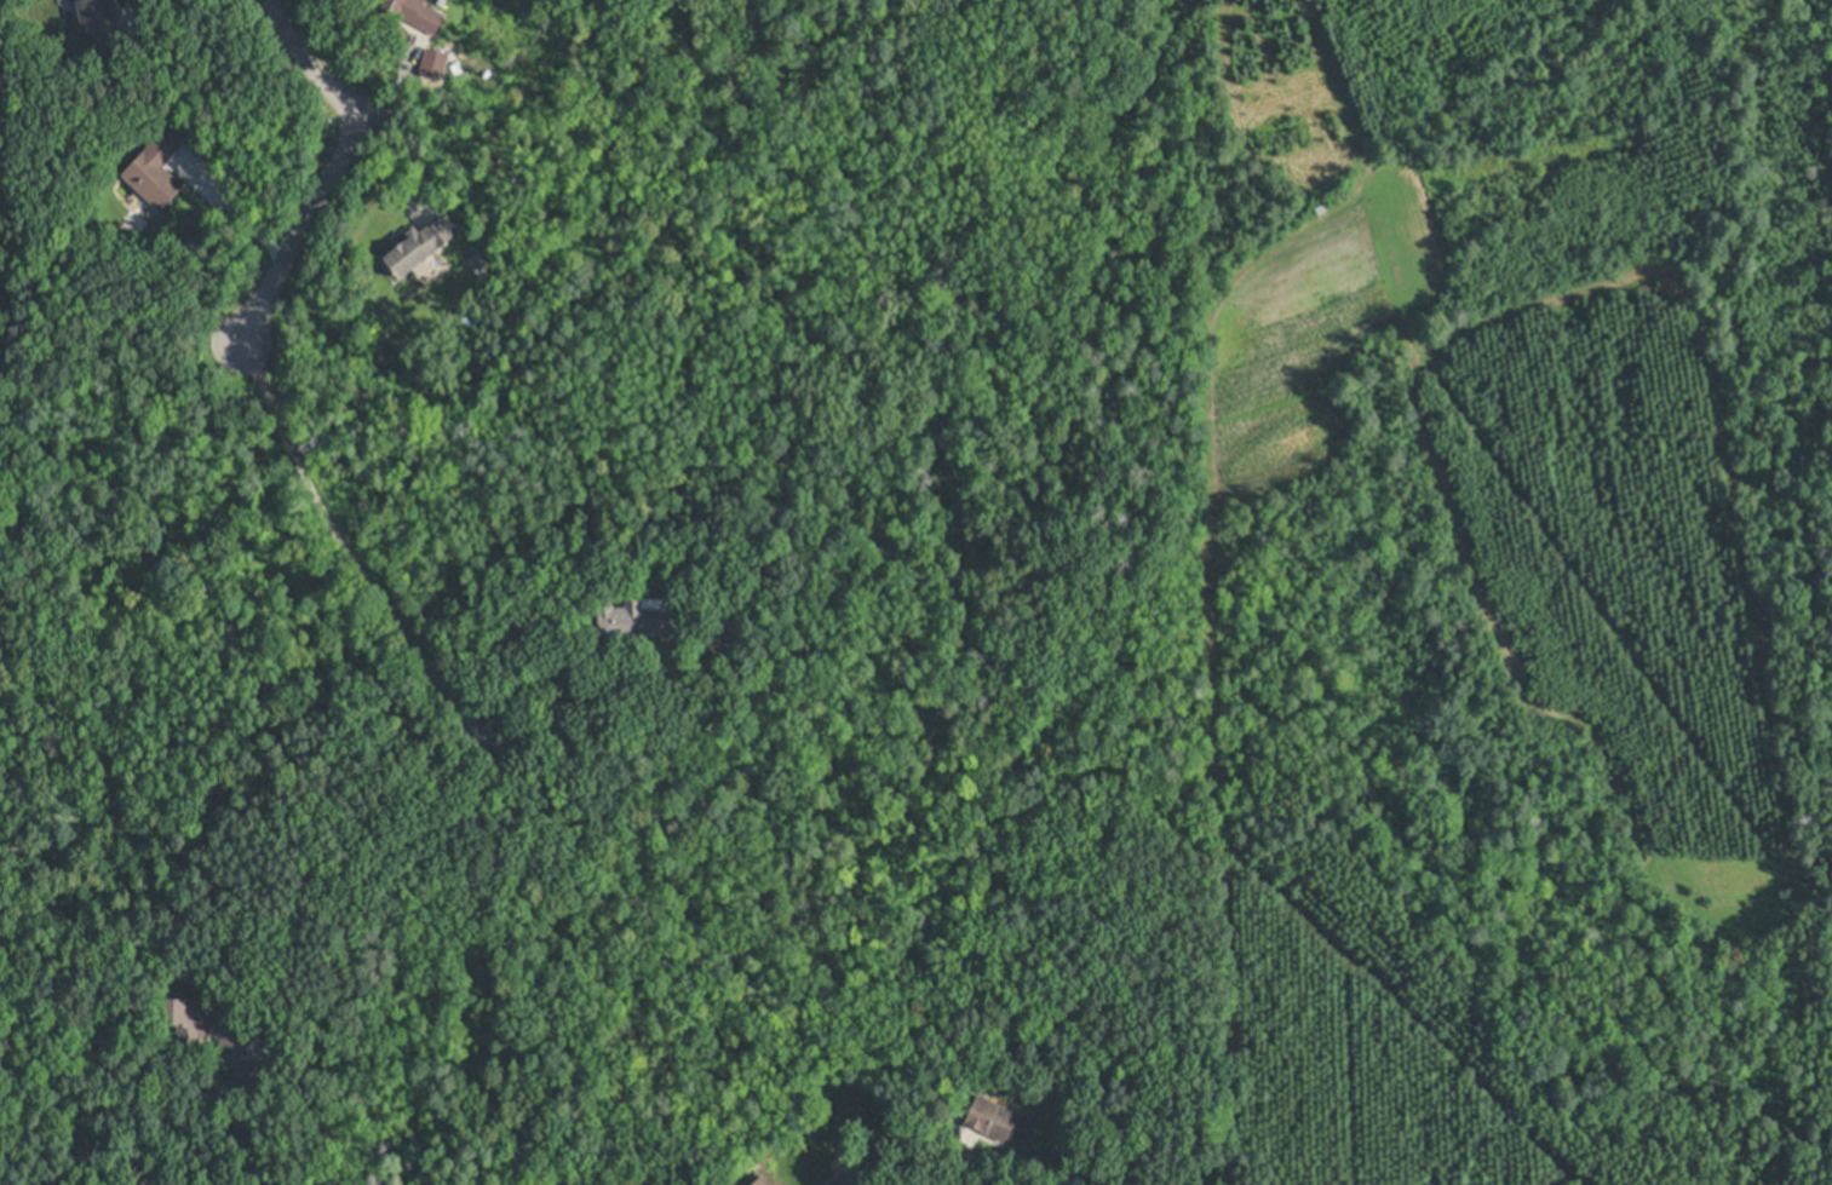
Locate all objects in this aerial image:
building: (417, 12)
building: (102, 16)
building: (432, 64)
road: (334, 88)
building: (156, 165)
building: (1322, 205)
road: (303, 231)
building: (418, 243)
road: (346, 537)
building: (638, 617)
building: (719, 629)
road: (567, 719)
road: (346, 828)
building: (202, 1023)
building: (1029, 1024)
building: (252, 1076)
building: (964, 1105)
building: (1000, 1118)
building: (849, 1178)
building: (762, 1180)

